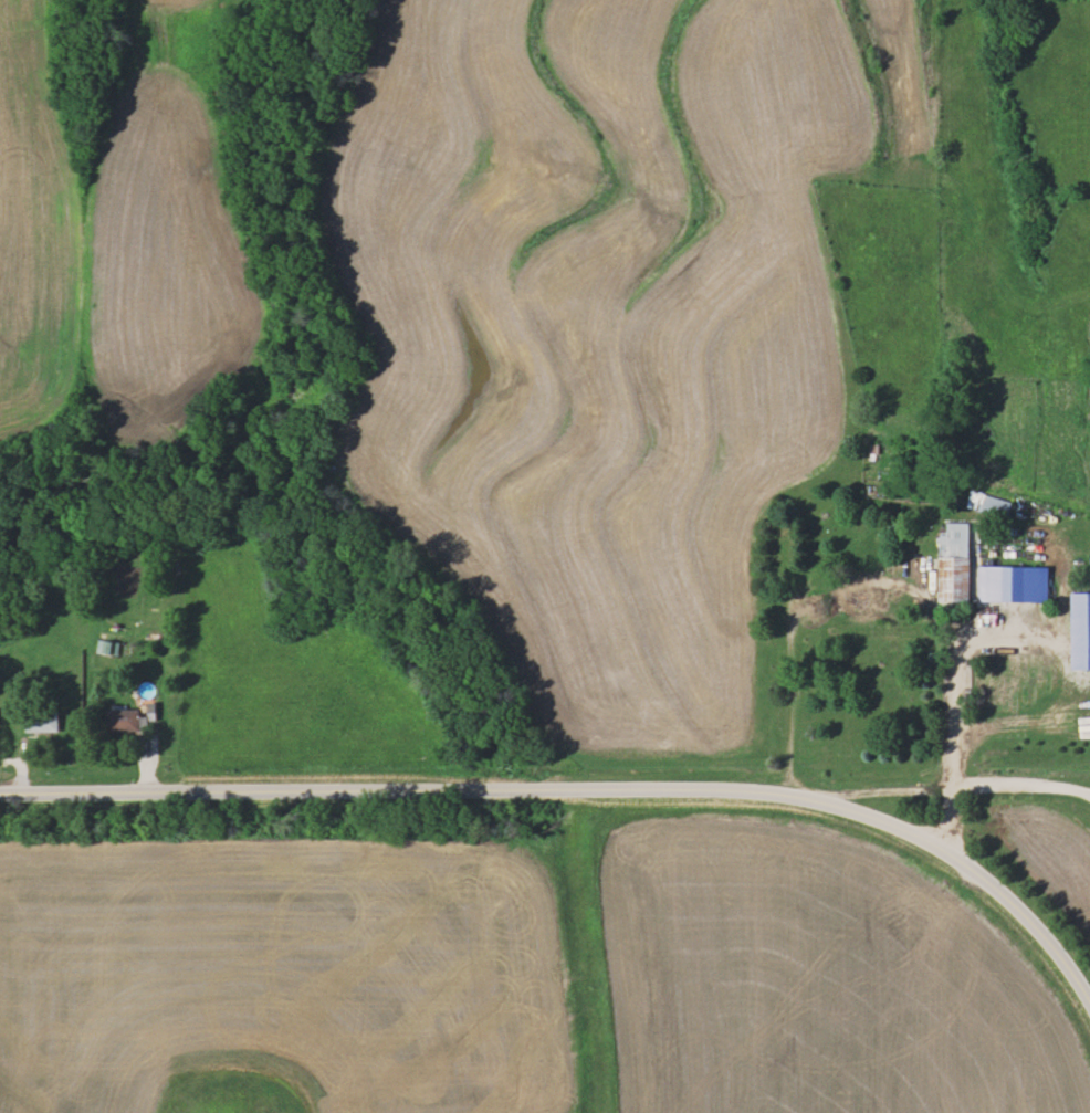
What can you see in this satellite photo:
building: (993, 504)
building: (951, 561)
road: (789, 689)
building: (981, 692)
building: (125, 720)
building: (43, 722)
road: (952, 728)
road: (940, 785)
road: (587, 788)
road: (1087, 788)

